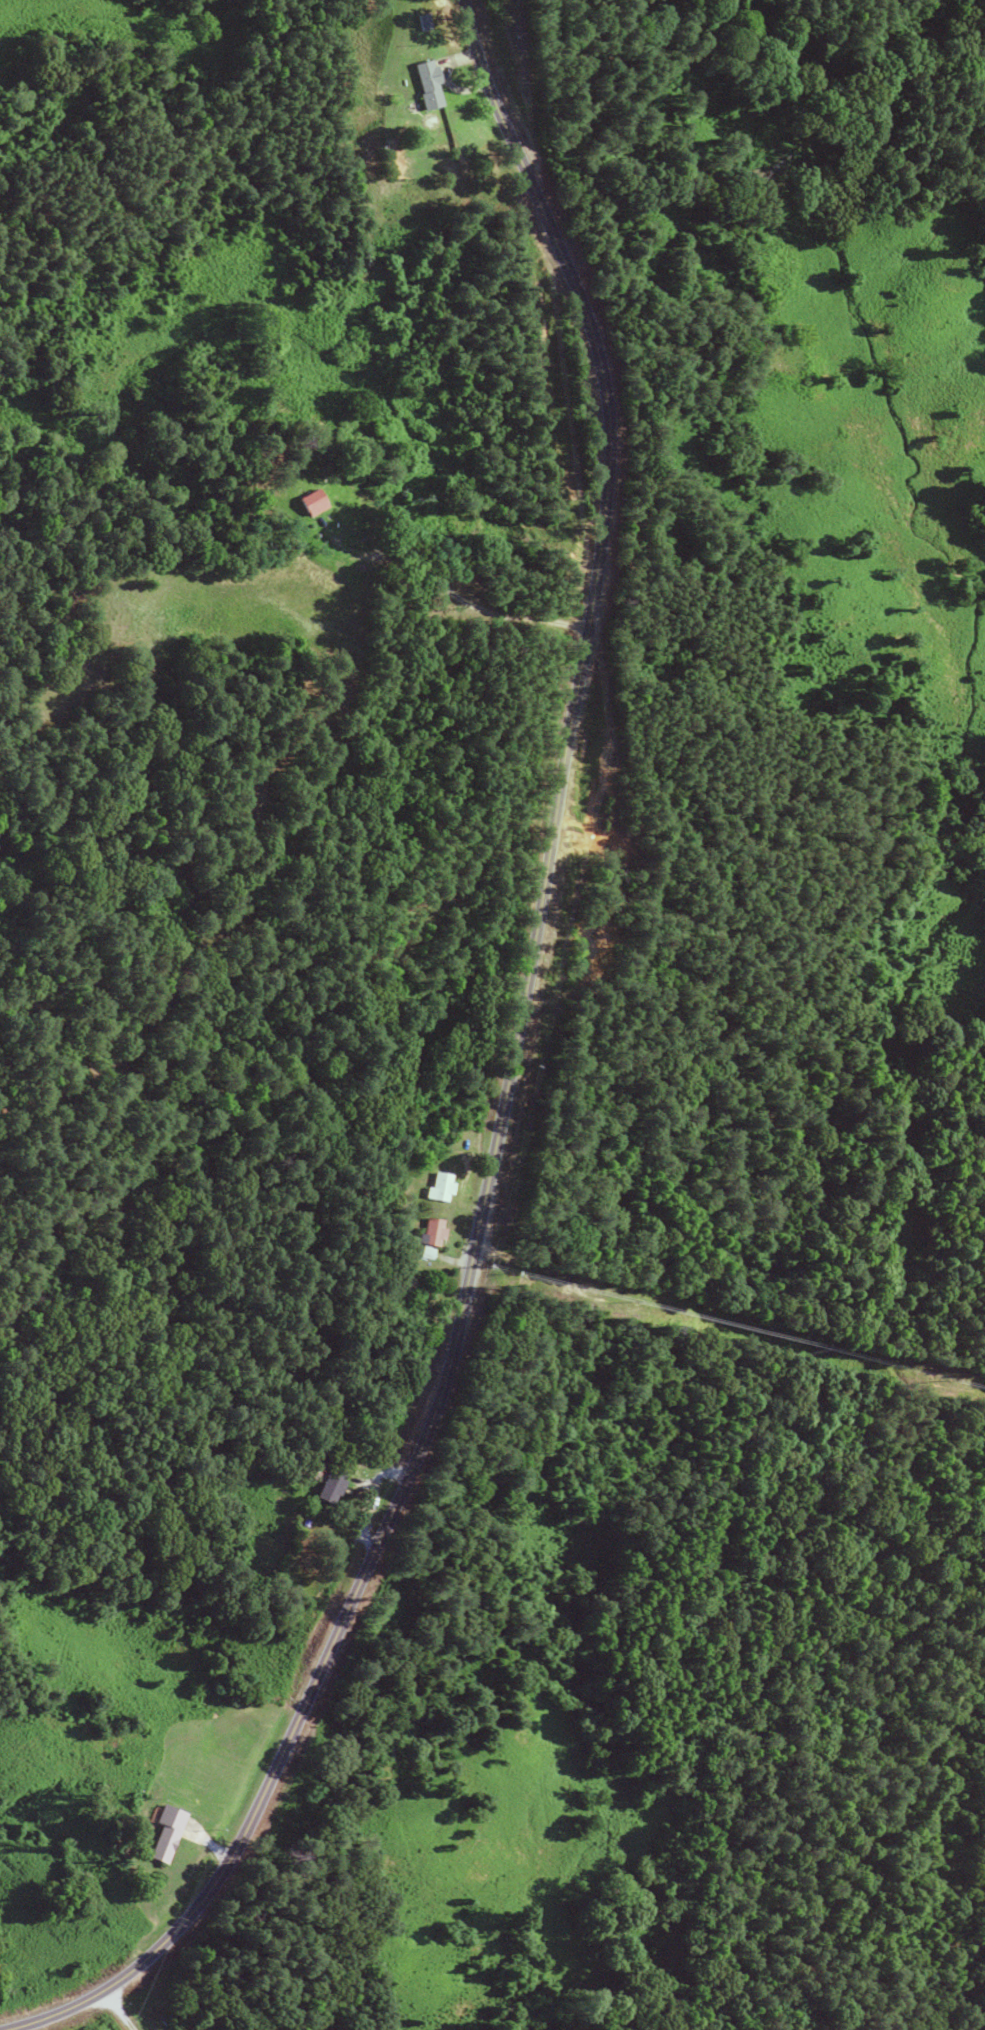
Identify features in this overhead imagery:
road: (446, 76)
building: (426, 84)
building: (308, 502)
road: (450, 595)
road: (502, 1087)
building: (437, 1186)
building: (430, 1231)
building: (421, 1266)
building: (330, 1485)
building: (166, 1833)
road: (117, 2010)

